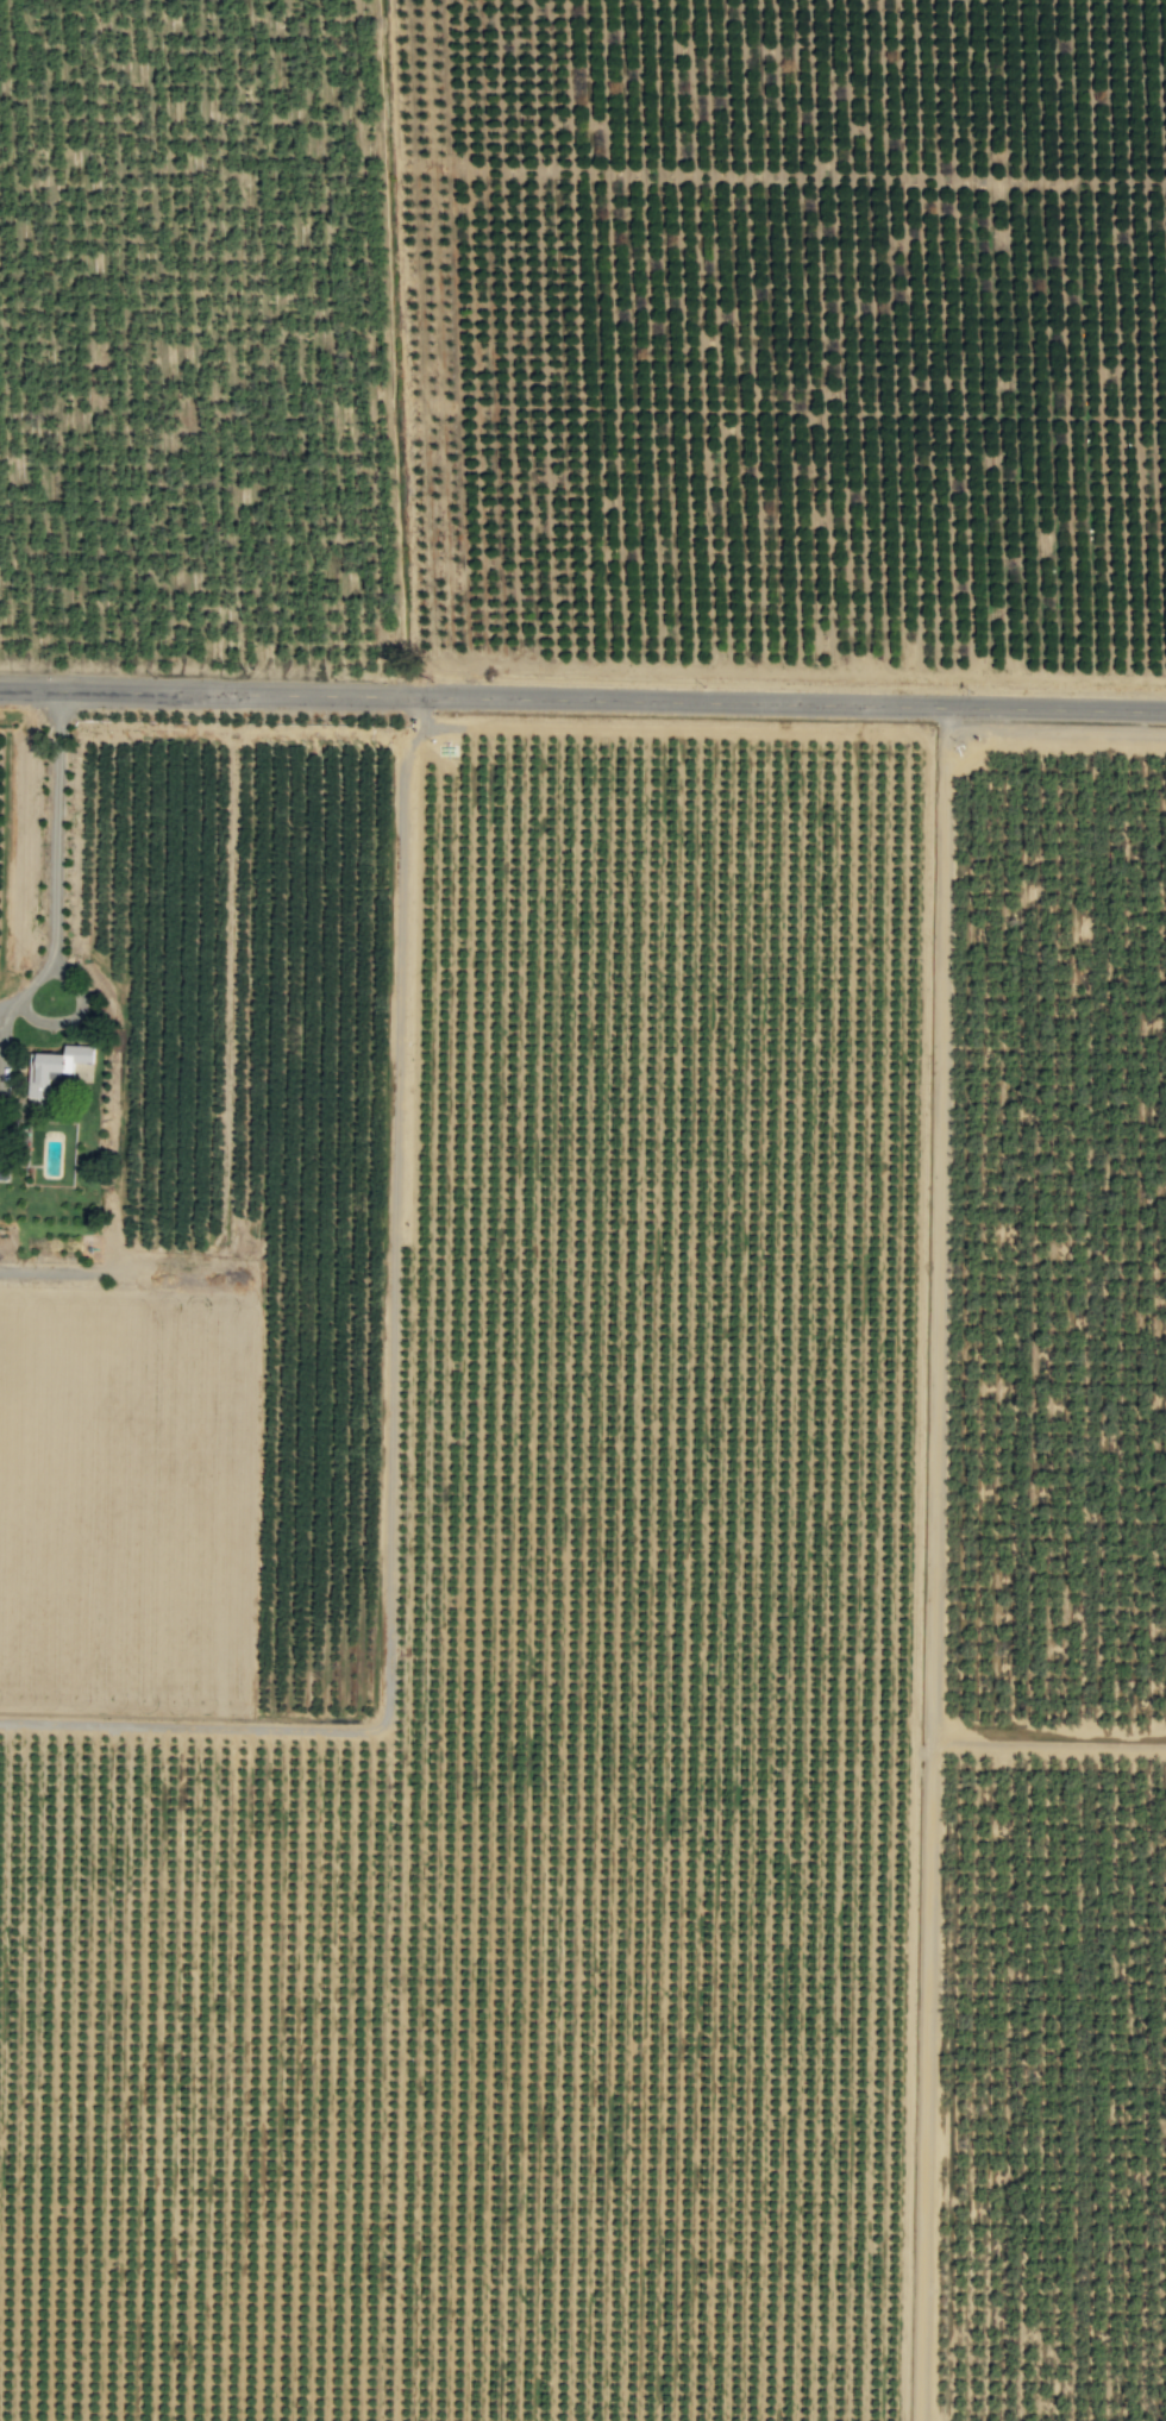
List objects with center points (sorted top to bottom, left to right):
road: (582, 697)
road: (50, 855)
building: (61, 1065)
building: (2, 1166)

